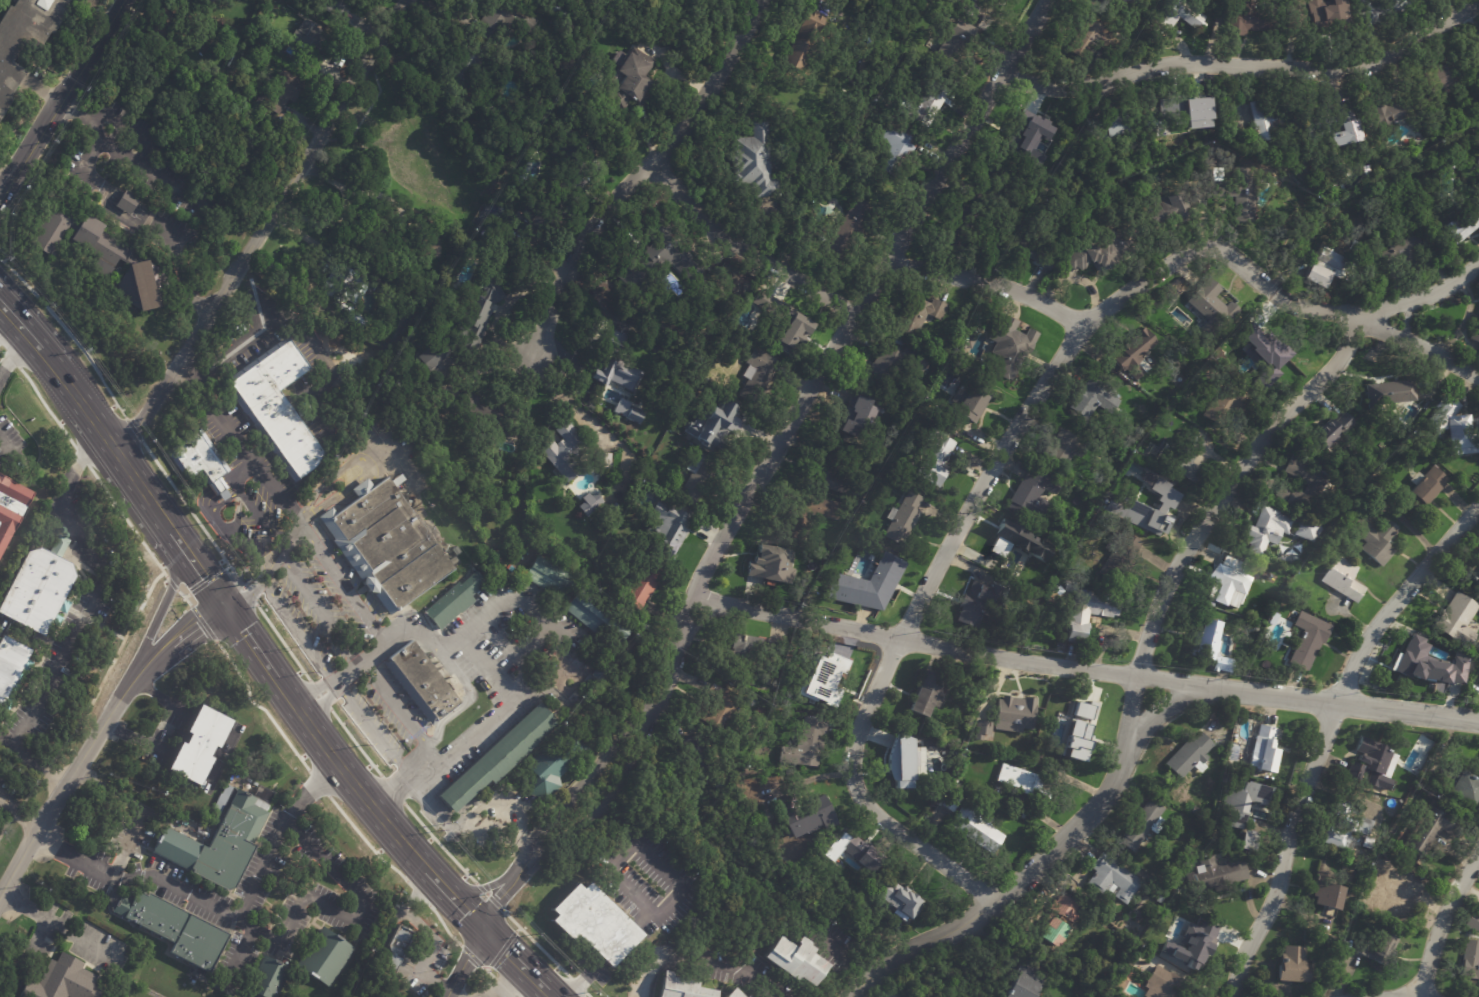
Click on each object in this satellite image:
building: (207, 1)
building: (701, 1)
building: (1001, 1)
building: (334, 7)
building: (969, 7)
building: (1377, 10)
building: (1321, 18)
building: (1170, 19)
building: (1247, 19)
building: (172, 20)
building: (506, 21)
building: (1084, 38)
building: (25, 39)
building: (802, 42)
building: (313, 43)
building: (953, 43)
building: (1474, 52)
road: (1246, 65)
building: (469, 70)
building: (627, 77)
building: (1435, 79)
building: (284, 89)
road: (59, 97)
building: (924, 106)
building: (1183, 112)
building: (1383, 114)
building: (1270, 121)
building: (1334, 124)
building: (1105, 129)
building: (1029, 131)
road: (142, 135)
building: (895, 146)
building: (753, 163)
road: (641, 174)
road: (4, 182)
building: (566, 183)
building: (1000, 184)
building: (1242, 193)
building: (130, 203)
building: (1170, 206)
building: (141, 211)
building: (529, 225)
building: (850, 228)
building: (1462, 228)
road: (265, 229)
building: (379, 233)
building: (1031, 234)
building: (961, 235)
building: (432, 248)
building: (1357, 248)
road: (745, 249)
building: (1407, 253)
building: (1093, 254)
building: (103, 257)
building: (657, 261)
building: (1329, 261)
building: (1044, 263)
building: (733, 276)
building: (1316, 278)
road: (995, 284)
road: (1271, 290)
building: (346, 292)
building: (1211, 306)
building: (484, 312)
building: (917, 316)
road: (3, 317)
building: (784, 320)
building: (1475, 334)
road: (61, 337)
road: (34, 343)
building: (728, 345)
road: (238, 346)
road: (1418, 346)
building: (1262, 350)
building: (623, 351)
building: (1005, 351)
building: (440, 352)
building: (1135, 352)
road: (11, 355)
building: (891, 367)
building: (617, 375)
building: (757, 375)
building: (1388, 394)
building: (1092, 399)
building: (969, 401)
road: (81, 402)
building: (908, 405)
building: (1224, 405)
building: (278, 406)
building: (628, 411)
building: (489, 415)
building: (682, 420)
building: (853, 421)
building: (948, 427)
building: (725, 429)
building: (1455, 431)
building: (1333, 433)
building: (1063, 449)
road: (13, 450)
building: (569, 452)
building: (1136, 452)
building: (1182, 456)
building: (934, 459)
building: (200, 460)
building: (606, 461)
road: (365, 463)
road: (764, 467)
building: (887, 470)
building: (827, 473)
road: (133, 477)
road: (242, 478)
building: (700, 478)
building: (1314, 485)
building: (1425, 485)
road: (223, 492)
building: (1034, 494)
building: (589, 503)
building: (9, 504)
building: (1141, 506)
road: (1211, 512)
building: (1349, 512)
road: (261, 516)
building: (804, 516)
building: (901, 520)
building: (675, 526)
building: (1305, 529)
building: (1266, 530)
road: (227, 533)
building: (1373, 538)
building: (1006, 543)
building: (387, 544)
road: (287, 548)
road: (315, 548)
building: (1122, 551)
road: (269, 563)
road: (197, 567)
building: (767, 568)
building: (1254, 569)
building: (547, 573)
traffic signals: (204, 577)
traffic signals: (242, 579)
building: (1343, 579)
building: (1227, 582)
building: (868, 584)
building: (1478, 584)
building: (644, 586)
building: (40, 590)
building: (457, 600)
building: (974, 605)
road: (162, 607)
road: (321, 607)
road: (539, 607)
building: (1088, 612)
road: (87, 614)
building: (1273, 619)
building: (1456, 620)
building: (602, 622)
traffic signals: (197, 624)
road: (901, 629)
traffic signals: (242, 631)
road: (298, 633)
road: (176, 640)
building: (1307, 640)
road: (249, 641)
building: (1211, 646)
road: (944, 647)
building: (748, 648)
building: (1428, 664)
building: (13, 669)
building: (605, 674)
building: (822, 681)
building: (422, 682)
building: (924, 694)
road: (503, 705)
building: (717, 709)
road: (399, 713)
building: (1015, 714)
road: (1149, 720)
building: (1081, 726)
road: (165, 730)
road: (370, 732)
building: (1041, 735)
road: (1330, 737)
road: (6, 740)
building: (203, 740)
building: (806, 741)
building: (1264, 748)
building: (1189, 756)
building: (695, 757)
building: (499, 758)
building: (1368, 759)
building: (559, 764)
building: (903, 767)
building: (1267, 779)
road: (351, 781)
building: (1024, 783)
road: (64, 786)
building: (720, 786)
building: (1461, 786)
parking lot: (7, 790)
building: (949, 802)
building: (1242, 802)
road: (137, 808)
building: (1026, 809)
road: (18, 814)
road: (516, 815)
building: (801, 815)
building: (1141, 825)
building: (976, 826)
road: (463, 828)
building: (1345, 829)
building: (1430, 829)
building: (219, 840)
building: (1247, 842)
building: (1367, 843)
road: (643, 848)
building: (852, 854)
building: (1219, 874)
building: (1111, 879)
parking lot: (646, 887)
building: (1388, 890)
road: (418, 891)
building: (1167, 891)
building: (1324, 894)
traffic signals: (499, 899)
building: (1159, 900)
road: (457, 903)
building: (898, 903)
road: (404, 905)
road: (220, 909)
traffic signals: (467, 913)
road: (347, 914)
building: (1473, 922)
building: (590, 923)
road: (1442, 924)
building: (175, 928)
building: (1051, 934)
building: (1184, 937)
building: (400, 941)
building: (1378, 950)
road: (431, 951)
traffic signals: (506, 952)
building: (749, 954)
road: (607, 955)
building: (327, 957)
traffic signals: (466, 959)
road: (513, 959)
building: (794, 959)
road: (702, 961)
building: (1471, 961)
road: (464, 962)
road: (904, 962)
building: (1291, 967)
building: (271, 977)
road: (501, 980)
road: (875, 980)
building: (64, 981)
building: (1027, 985)
building: (1162, 985)
building: (678, 988)
road: (507, 989)
building: (733, 993)
road: (543, 994)
road: (548, 994)
road: (452, 995)
building: (500, 996)
gas station: (507, 996)
building: (747, 996)
road: (1392, 996)
road: (1404, 996)

